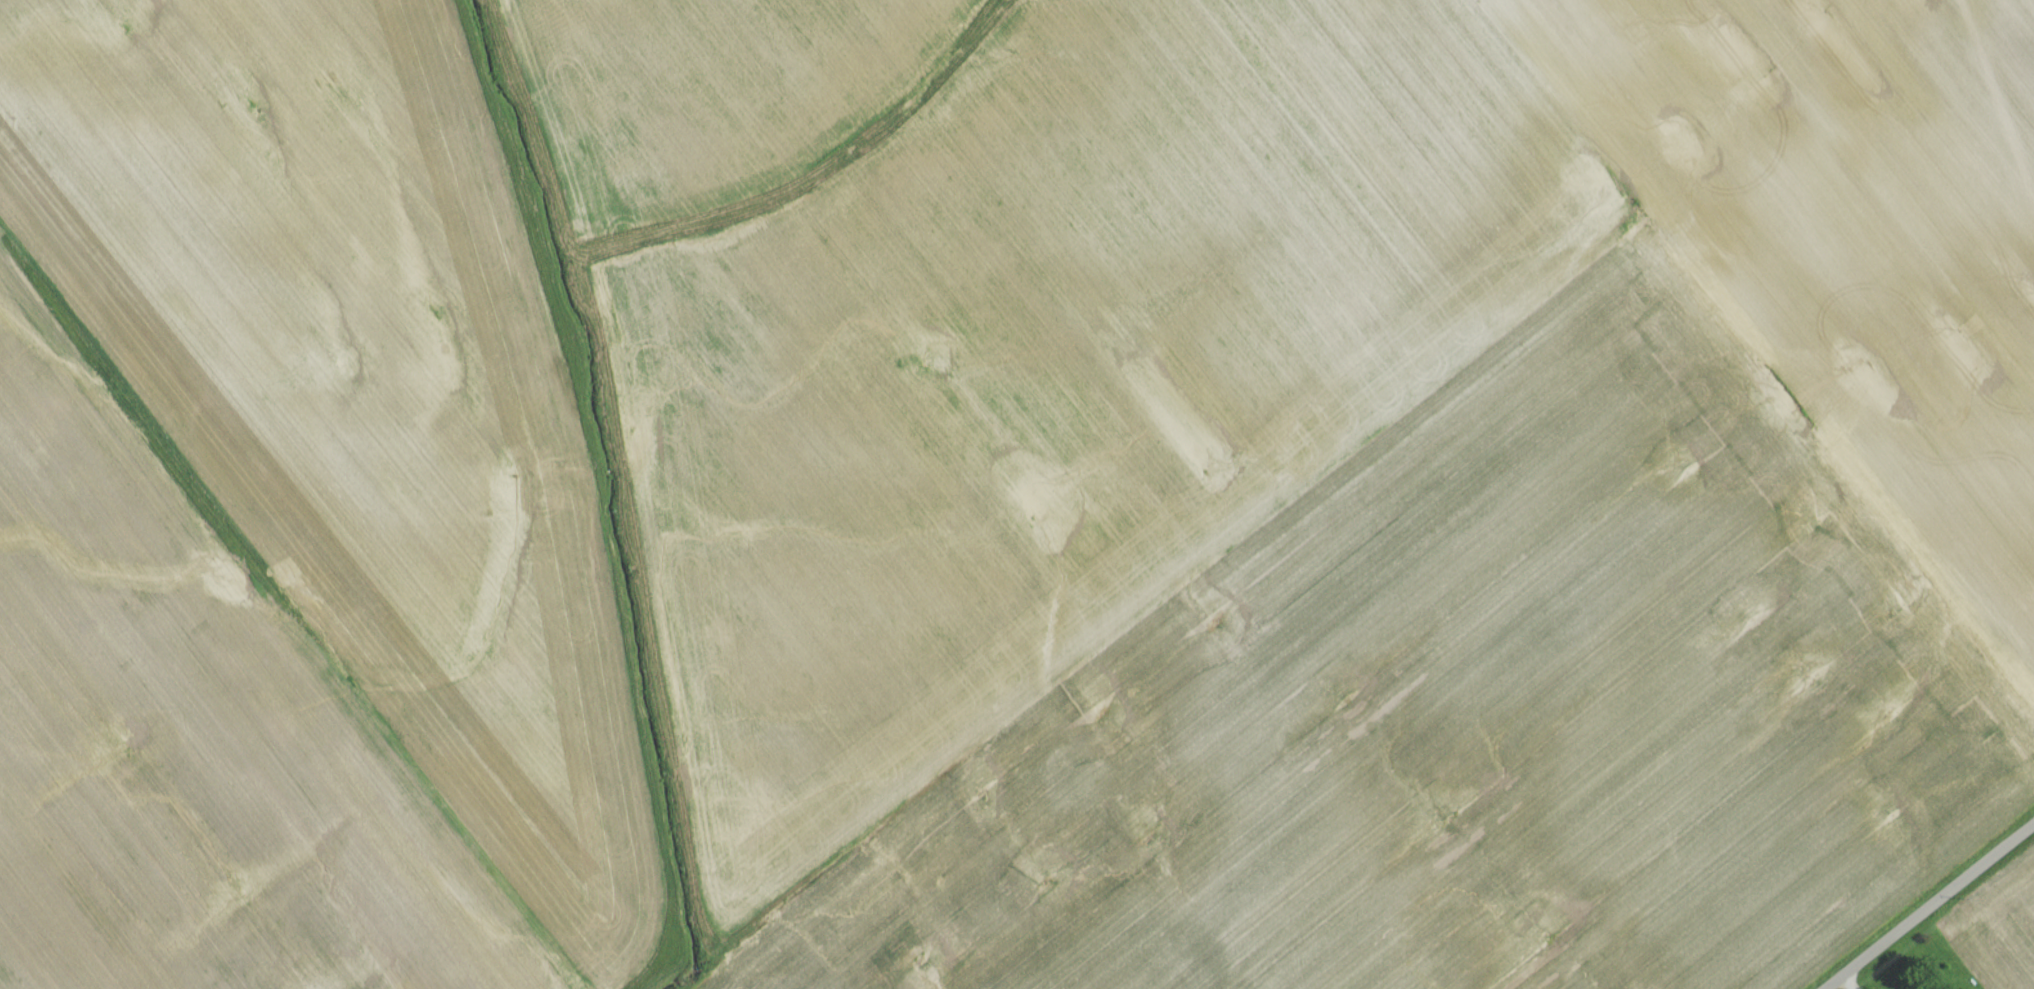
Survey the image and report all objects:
road: (1932, 908)

